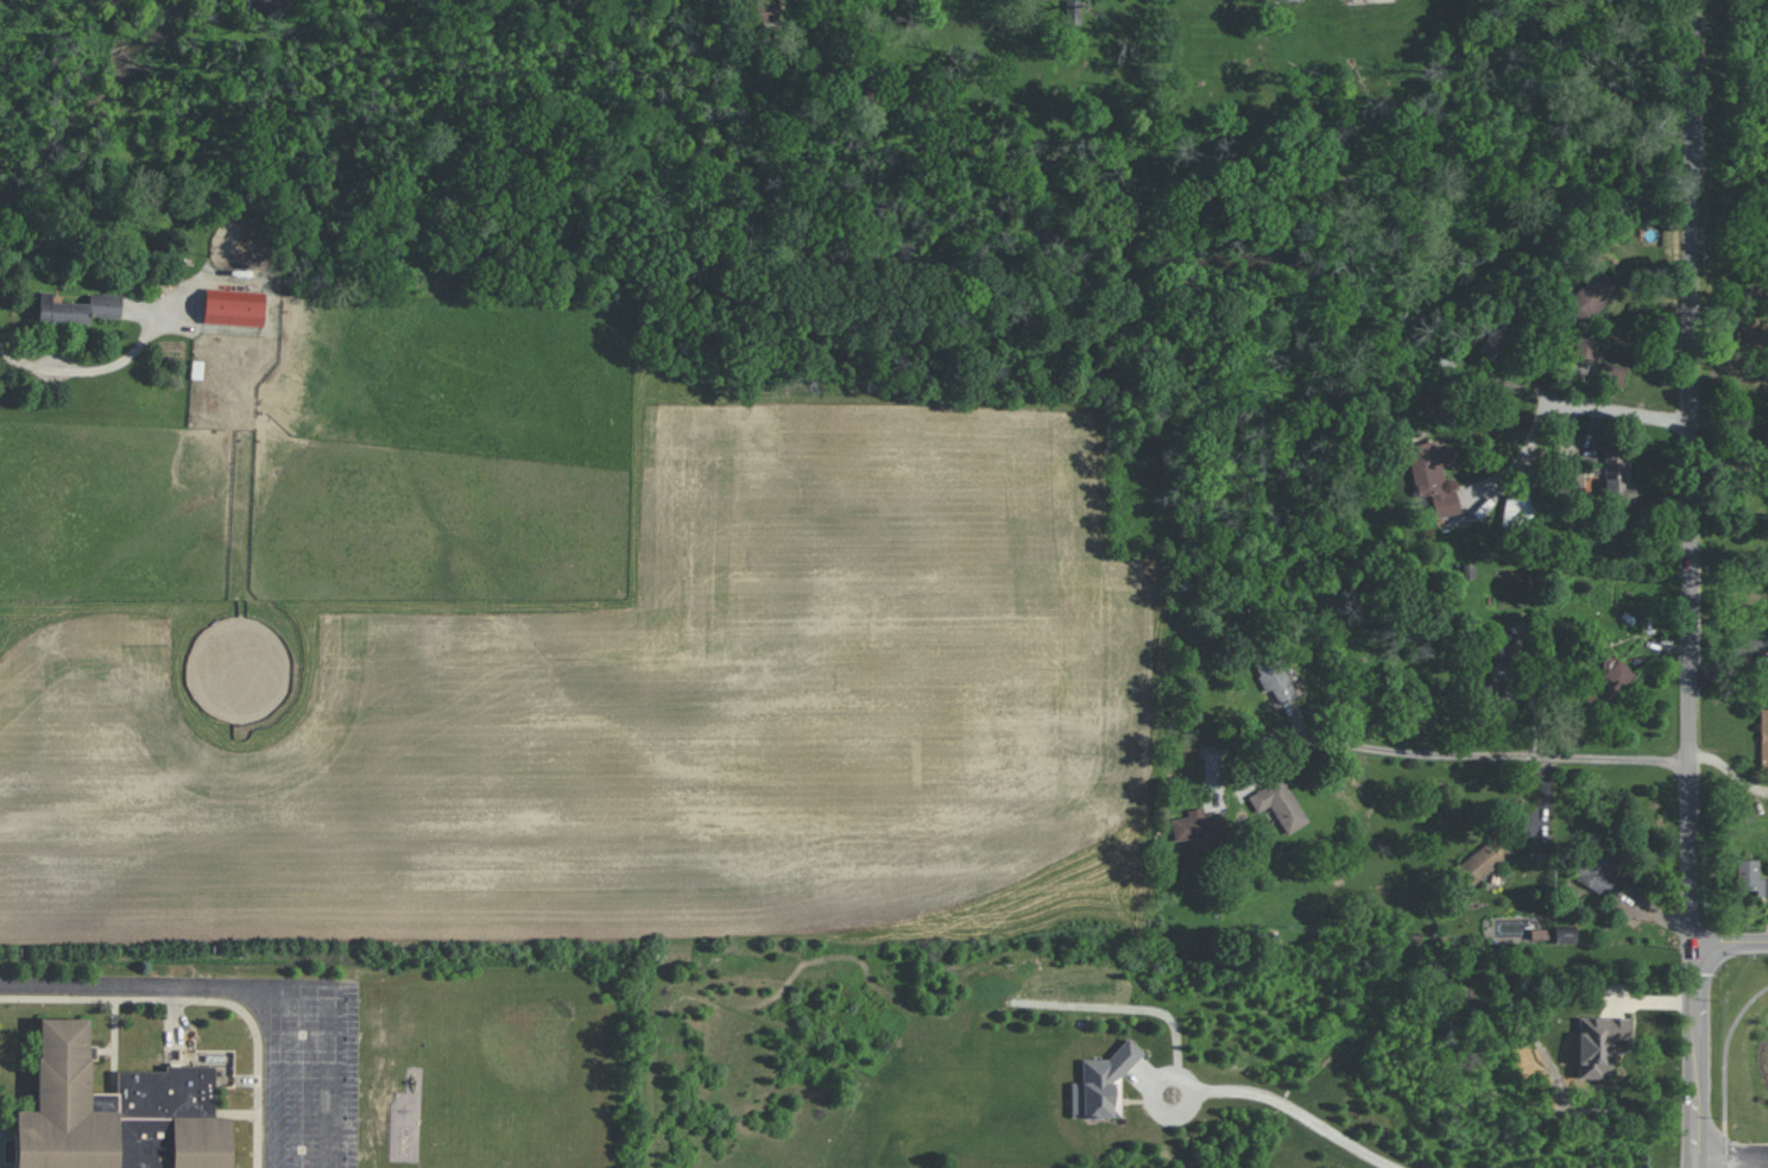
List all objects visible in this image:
building: (766, 10)
building: (1073, 12)
building: (1589, 296)
building: (78, 308)
building: (234, 308)
building: (1585, 347)
road: (88, 371)
building: (1611, 374)
road: (1622, 413)
road: (1521, 465)
building: (1433, 475)
building: (1617, 478)
building: (1576, 482)
building: (1517, 510)
road: (1693, 583)
building: (1273, 676)
building: (1502, 677)
building: (1610, 683)
building: (1763, 739)
road: (1467, 755)
building: (1280, 804)
building: (1201, 828)
building: (1484, 859)
building: (1598, 871)
building: (1750, 877)
building: (1565, 935)
road: (1730, 946)
road: (250, 989)
building: (1599, 1043)
road: (1725, 1052)
building: (1100, 1088)
road: (1158, 1100)
building: (116, 1112)
road: (1299, 1112)
road: (1725, 1149)
road: (1729, 1156)
road: (1763, 1162)

